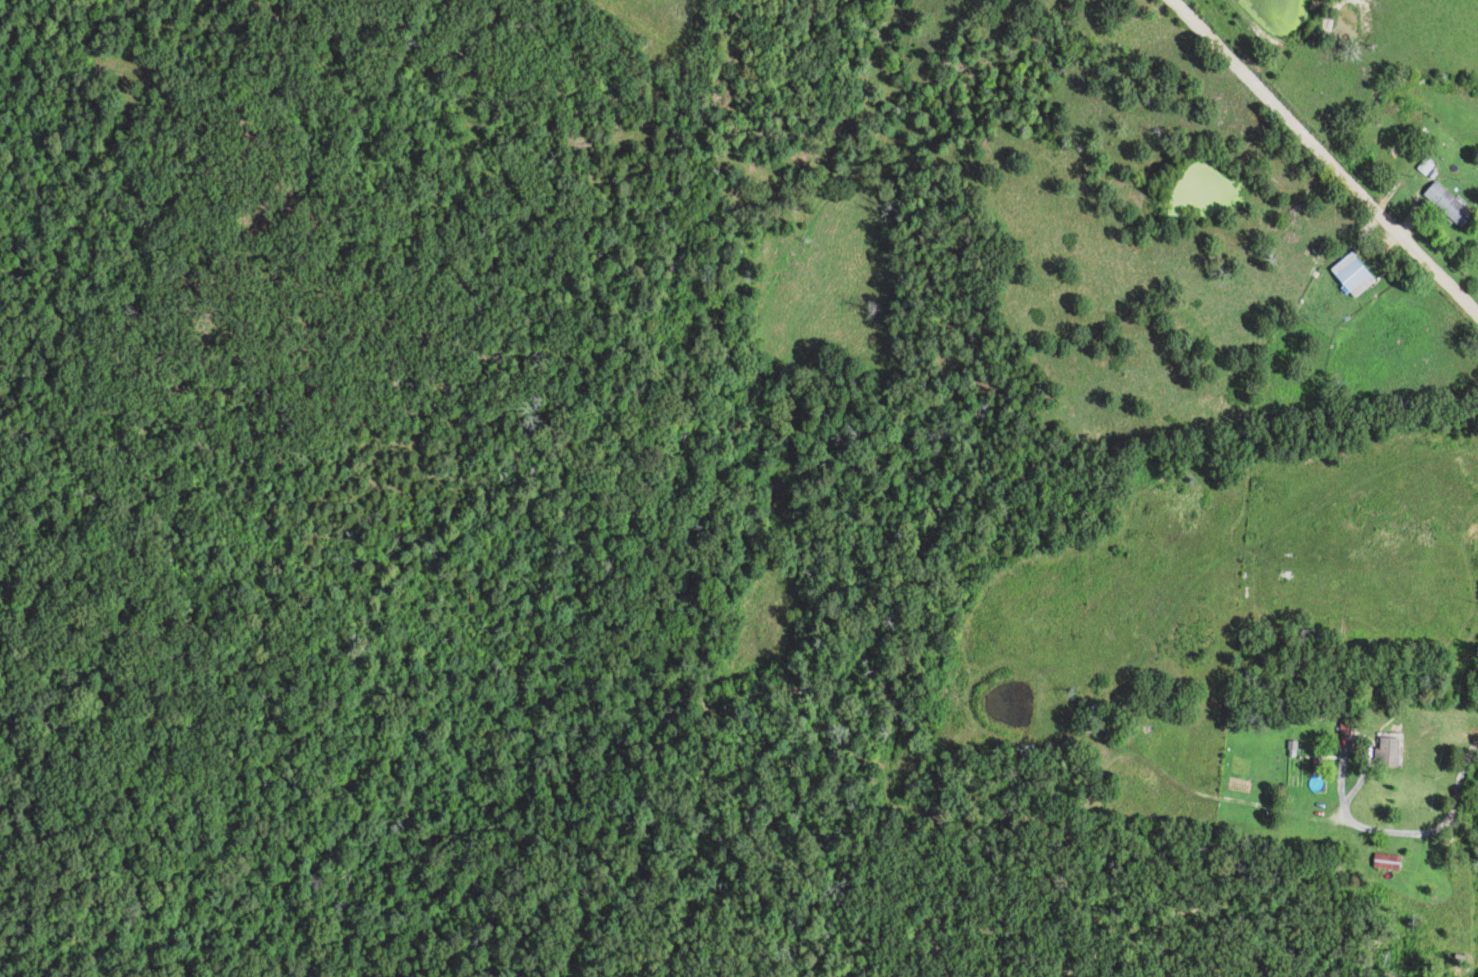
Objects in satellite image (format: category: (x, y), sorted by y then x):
road: (1324, 157)
building: (1444, 205)
building: (1348, 277)
building: (1383, 752)
building: (1386, 863)

